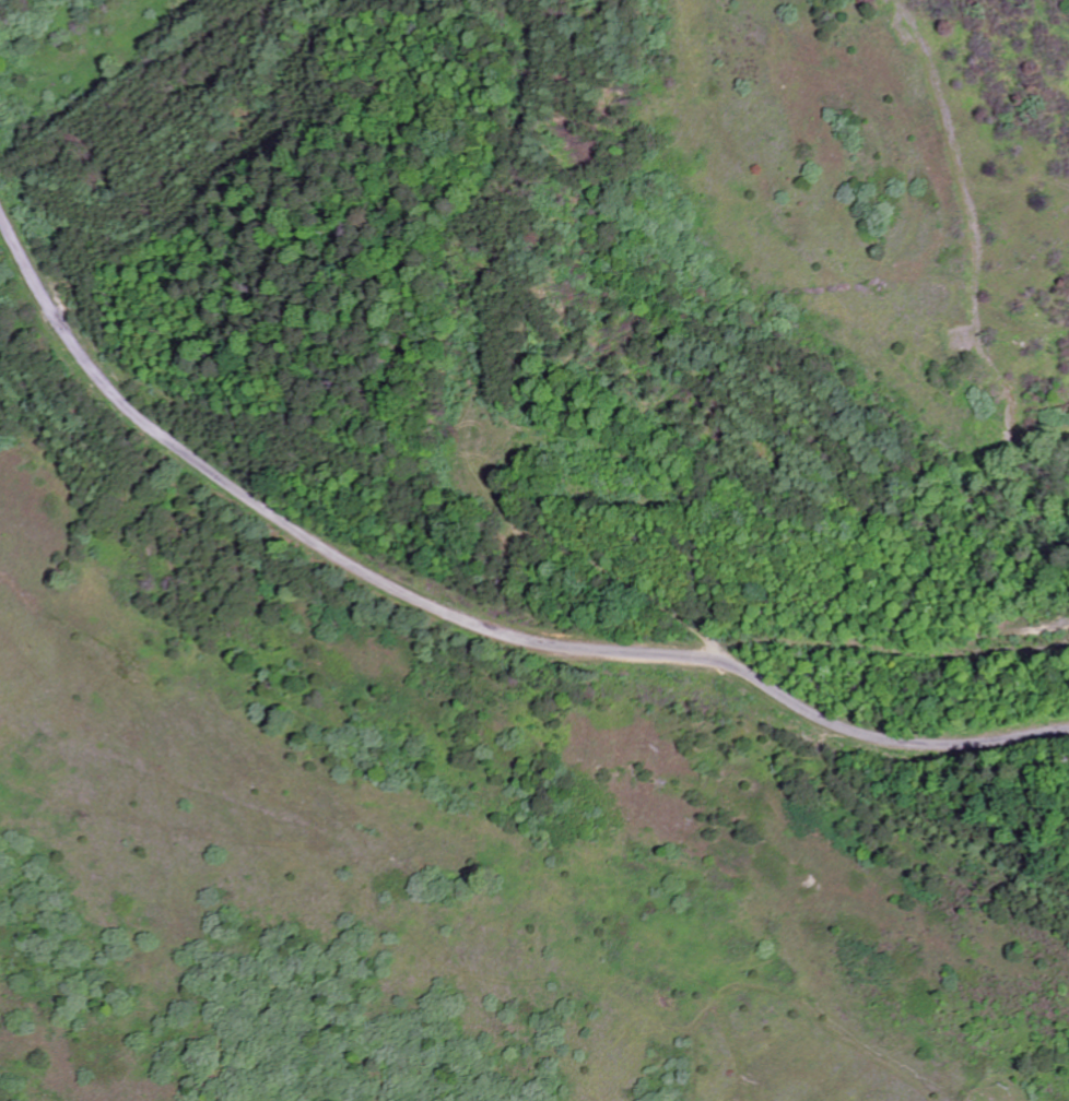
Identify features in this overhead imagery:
road: (462, 618)

